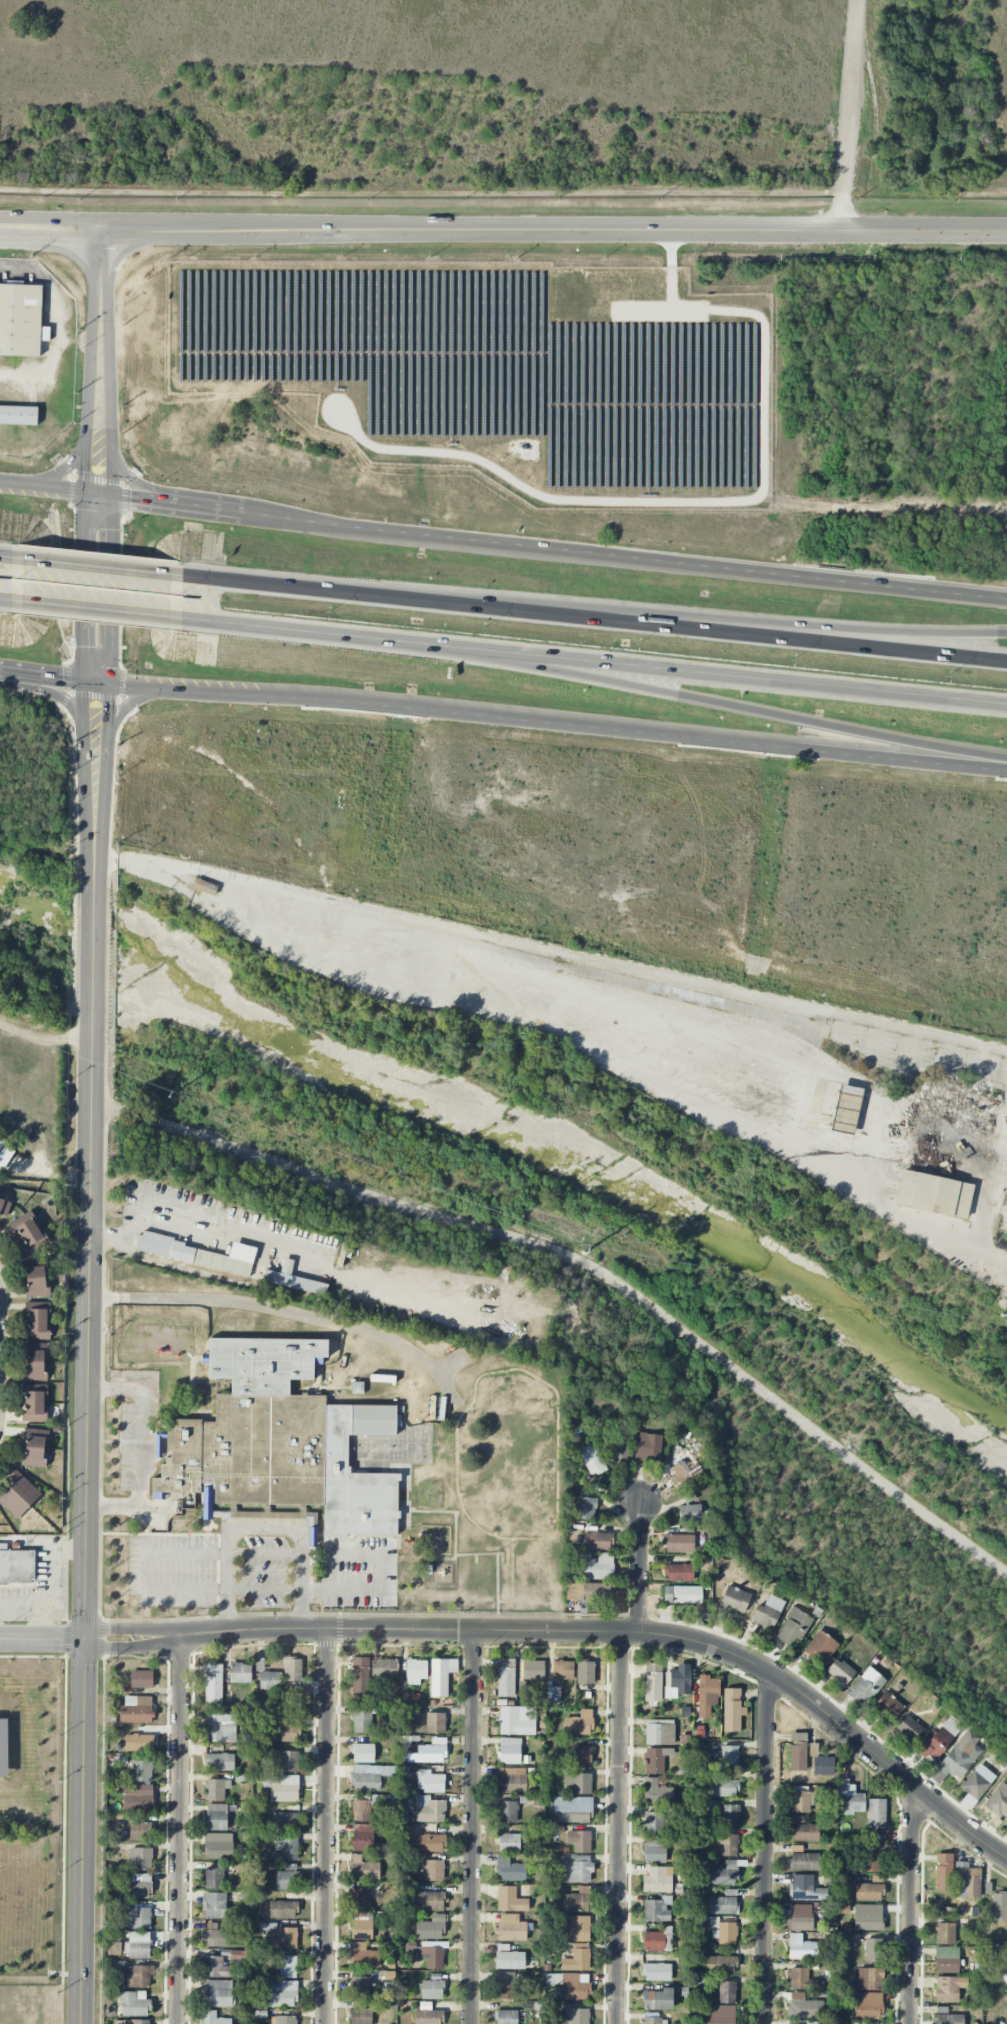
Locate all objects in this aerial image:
road: (895, 7)
road: (854, 96)
road: (503, 190)
road: (503, 230)
road: (101, 268)
building: (21, 319)
road: (59, 323)
road: (88, 399)
road: (109, 401)
building: (18, 415)
road: (63, 471)
traffic signals: (86, 472)
road: (128, 477)
road: (714, 500)
traffic signals: (110, 530)
road: (502, 544)
road: (6, 559)
road: (97, 568)
road: (85, 587)
road: (109, 590)
road: (6, 604)
road: (98, 614)
road: (594, 619)
road: (695, 619)
road: (321, 636)
traffic signals: (85, 646)
road: (732, 677)
traffic signals: (64, 680)
road: (58, 694)
road: (128, 703)
traffic signals: (108, 705)
road: (732, 707)
road: (503, 719)
road: (85, 771)
road: (106, 773)
building: (205, 886)
road: (725, 988)
road: (568, 1013)
road: (92, 1029)
power tower: (168, 1096)
building: (846, 1109)
building: (945, 1149)
building: (4, 1153)
road: (992, 1187)
building: (1006, 1190)
building: (5, 1207)
building: (26, 1223)
road: (127, 1231)
building: (37, 1240)
power tower: (584, 1252)
building: (199, 1254)
building: (36, 1271)
building: (293, 1280)
building: (39, 1288)
road: (277, 1310)
power tower: (1002, 1314)
building: (38, 1316)
building: (39, 1331)
road: (0, 1333)
building: (35, 1356)
building: (35, 1370)
street lamp: (198, 1374)
street lamp: (349, 1377)
building: (357, 1387)
building: (36, 1393)
building: (37, 1413)
building: (36, 1439)
building: (279, 1445)
building: (618, 1447)
building: (648, 1448)
road: (140, 1449)
building: (35, 1458)
building: (592, 1459)
building: (687, 1472)
building: (24, 1487)
building: (13, 1502)
building: (586, 1508)
building: (693, 1514)
street lamp: (216, 1527)
road: (266, 1529)
street lamp: (177, 1531)
building: (598, 1541)
building: (679, 1543)
street lamp: (244, 1544)
street lamp: (292, 1545)
building: (16, 1566)
building: (599, 1567)
road: (641, 1568)
road: (148, 1570)
road: (380, 1573)
building: (679, 1573)
building: (487, 1578)
road: (53, 1589)
building: (588, 1592)
building: (682, 1594)
building: (734, 1600)
street lamp: (157, 1608)
street lamp: (242, 1608)
street lamp: (208, 1609)
road: (84, 1610)
building: (768, 1612)
road: (45, 1623)
building: (793, 1626)
road: (352, 1630)
road: (631, 1631)
road: (42, 1638)
traffic signals: (84, 1639)
building: (821, 1646)
building: (384, 1668)
building: (292, 1669)
building: (533, 1670)
building: (563, 1670)
building: (416, 1671)
building: (585, 1672)
building: (840, 1672)
building: (240, 1673)
building: (360, 1676)
building: (441, 1676)
building: (267, 1677)
building: (506, 1677)
building: (142, 1678)
building: (677, 1681)
building: (652, 1682)
building: (213, 1683)
building: (867, 1686)
building: (707, 1695)
building: (888, 1706)
building: (136, 1709)
building: (732, 1710)
building: (517, 1720)
road: (837, 1720)
building: (362, 1722)
building: (435, 1723)
building: (579, 1723)
building: (908, 1728)
building: (219, 1729)
building: (285, 1729)
building: (660, 1732)
building: (939, 1739)
building: (139, 1742)
building: (509, 1751)
building: (798, 1752)
building: (363, 1753)
building: (429, 1754)
building: (580, 1755)
building: (729, 1756)
building: (958, 1758)
building: (655, 1760)
building: (220, 1761)
building: (288, 1761)
building: (823, 1766)
building: (142, 1771)
building: (512, 1780)
building: (430, 1781)
building: (577, 1783)
building: (975, 1785)
building: (282, 1787)
building: (723, 1788)
building: (216, 1789)
building: (657, 1792)
building: (138, 1797)
building: (851, 1799)
building: (800, 1801)
building: (998, 1801)
building: (429, 1809)
building: (572, 1809)
building: (361, 1810)
building: (507, 1811)
building: (876, 1813)
building: (729, 1815)
building: (216, 1817)
building: (284, 1821)
building: (653, 1822)
road: (328, 1827)
road: (473, 1827)
road: (619, 1827)
building: (139, 1831)
road: (180, 1831)
building: (805, 1832)
building: (363, 1837)
building: (579, 1841)
building: (431, 1843)
building: (218, 1845)
building: (728, 1845)
road: (766, 1847)
building: (289, 1849)
building: (655, 1849)
building: (139, 1858)
building: (872, 1858)
building: (804, 1861)
building: (364, 1869)
building: (579, 1869)
building: (434, 1870)
building: (509, 1870)
building: (943, 1872)
building: (724, 1874)
building: (287, 1877)
building: (214, 1878)
building: (658, 1880)
building: (967, 1881)
building: (138, 1887)
building: (805, 1888)
building: (868, 1892)
building: (360, 1898)
building: (510, 1900)
building: (576, 1900)
building: (428, 1901)
building: (723, 1903)
building: (214, 1905)
road: (913, 1906)
building: (999, 1906)
building: (282, 1909)
building: (657, 1909)
building: (868, 1917)
building: (137, 1918)
building: (801, 1921)
building: (361, 1925)
building: (431, 1928)
building: (511, 1928)
building: (579, 1929)
building: (724, 1932)
building: (945, 1933)
building: (217, 1936)
building: (287, 1938)
building: (657, 1940)
building: (139, 1945)
building: (801, 1948)
building: (874, 1949)
building: (363, 1956)
building: (432, 1957)
building: (508, 1958)
building: (577, 1958)
building: (946, 1960)
building: (719, 1964)
building: (287, 1966)
building: (215, 1967)
building: (657, 1972)
building: (138, 1976)
building: (798, 1978)
building: (870, 1978)
building: (505, 1985)
building: (575, 1986)
building: (359, 1987)
building: (949, 1988)
building: (431, 1989)
building: (727, 1992)
building: (218, 1993)
building: (282, 1993)
building: (658, 2000)
building: (134, 2004)
building: (868, 2005)
building: (804, 2006)
building: (361, 2012)
building: (427, 2015)
building: (719, 2015)
building: (577, 2016)
building: (506, 2017)
building: (947, 2017)
building: (213, 2018)
building: (283, 2020)
building: (653, 2021)
building: (136, 2022)
building: (1006, 2022)
building: (998, 2023)

